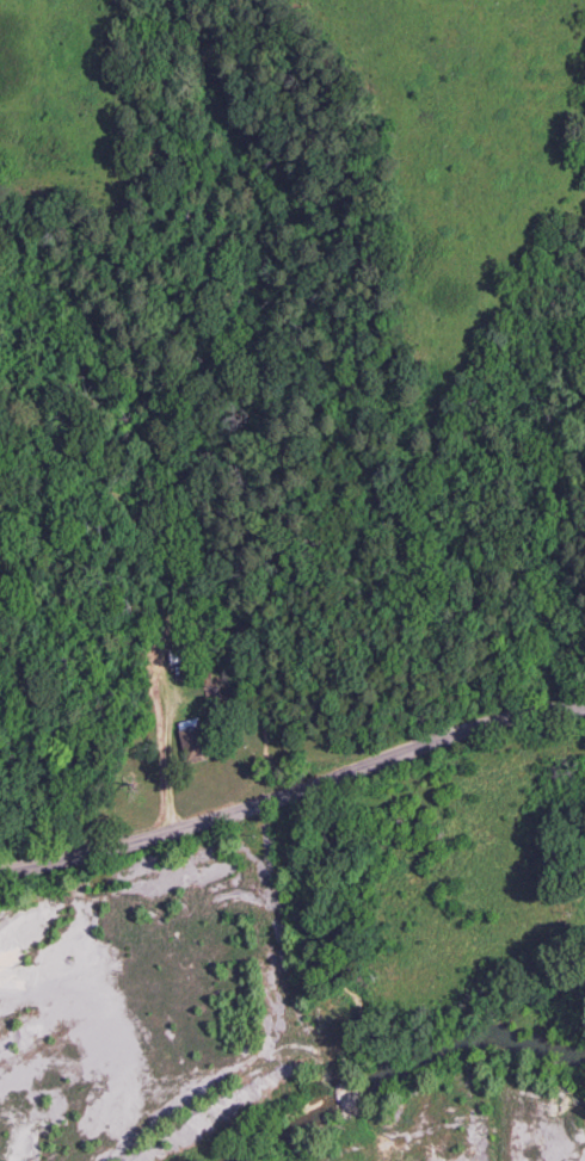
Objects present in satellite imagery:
building: (192, 739)
road: (292, 790)

